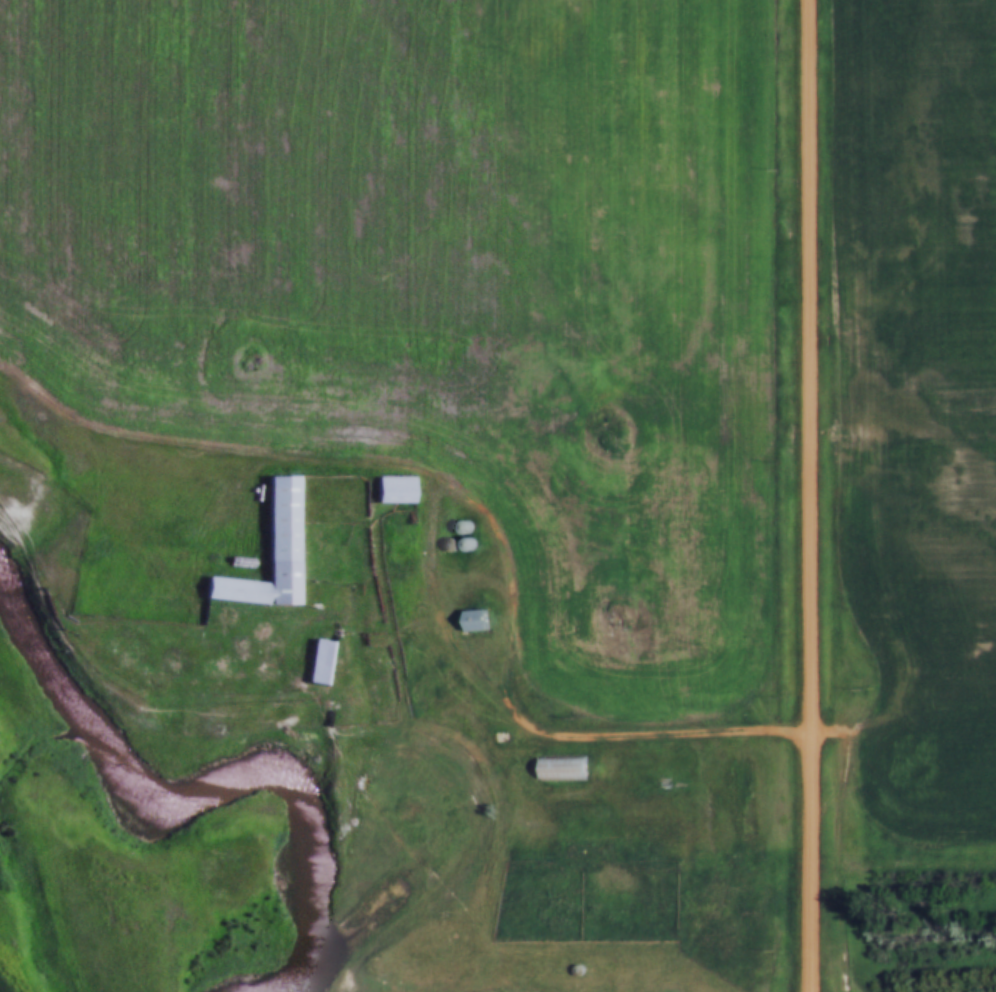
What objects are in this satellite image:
road: (205, 443)
building: (389, 490)
road: (809, 496)
building: (460, 528)
silo: (460, 528)
building: (446, 545)
silo: (446, 545)
building: (464, 545)
silo: (464, 545)
building: (265, 557)
building: (472, 622)
road: (447, 625)
building: (315, 664)
building: (558, 769)
building: (570, 807)

